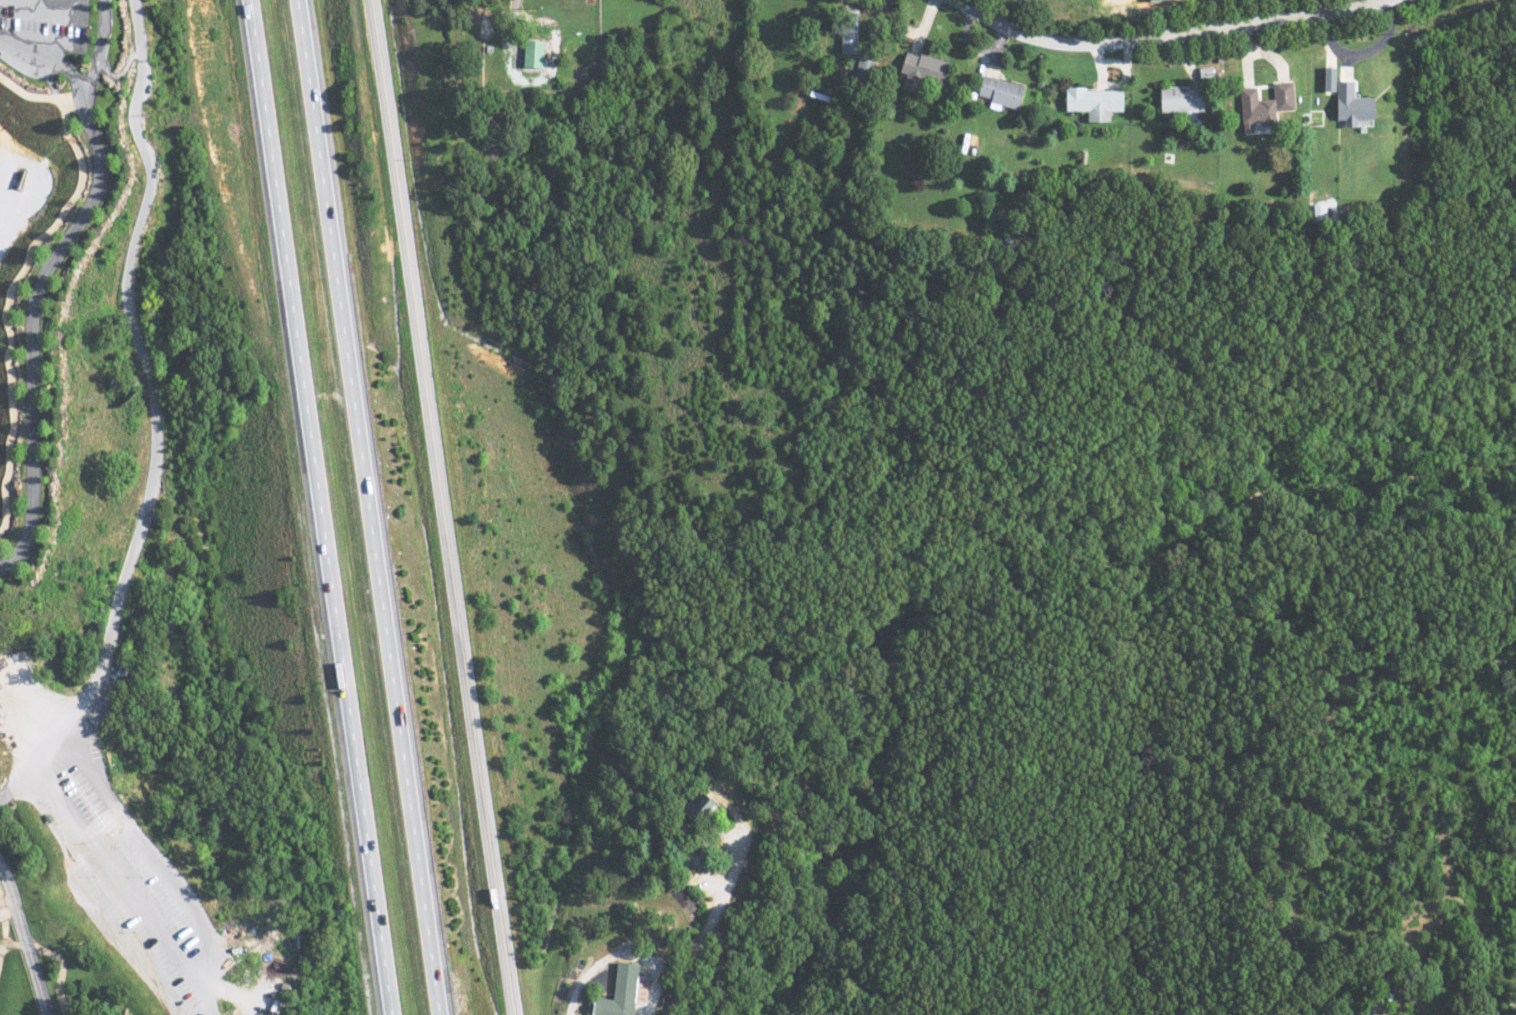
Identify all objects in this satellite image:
building: (1146, 0)
building: (844, 29)
road: (1163, 35)
building: (570, 51)
building: (529, 53)
building: (916, 67)
road: (82, 77)
building: (1323, 78)
building: (996, 92)
building: (1177, 100)
building: (1090, 102)
building: (1347, 105)
building: (1260, 106)
road: (22, 270)
road: (34, 320)
road: (365, 507)
road: (437, 507)
road: (312, 508)
building: (19, 662)
road: (53, 732)
road: (14, 783)
building: (690, 808)
road: (716, 901)
road: (3, 918)
road: (27, 941)
road: (202, 946)
road: (1, 949)
road: (620, 953)
road: (59, 957)
building: (637, 987)
building: (614, 993)

